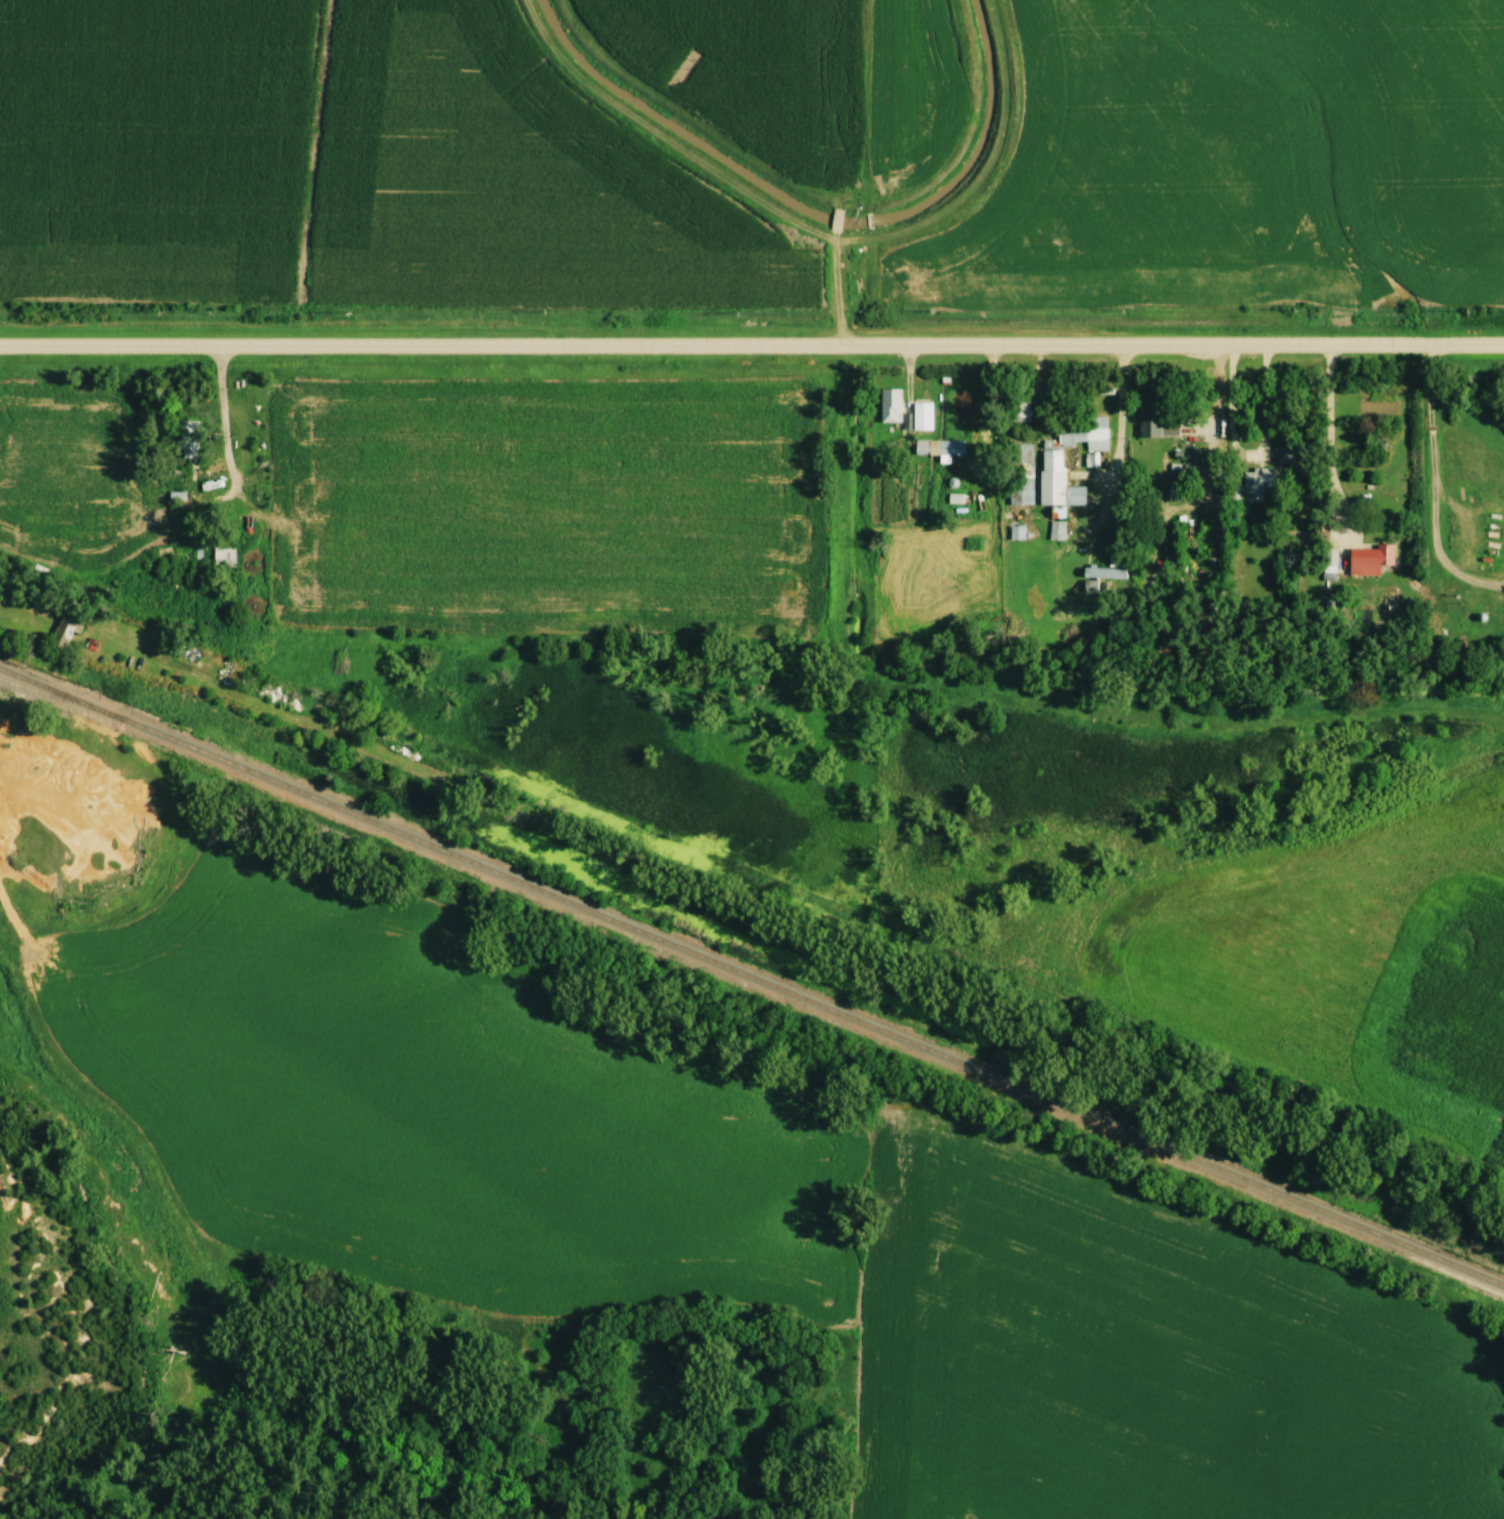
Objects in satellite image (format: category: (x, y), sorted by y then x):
building: (835, 220)
building: (477, 344)
road: (752, 347)
building: (1019, 403)
building: (889, 405)
building: (1154, 416)
road: (1330, 420)
building: (1084, 431)
building: (187, 440)
building: (938, 447)
building: (1281, 455)
road: (1120, 456)
road: (1253, 459)
building: (1056, 481)
building: (1250, 484)
building: (1170, 557)
building: (222, 558)
building: (1329, 558)
building: (1115, 559)
building: (1285, 559)
building: (1369, 559)
building: (1099, 575)
building: (59, 630)
railway: (49, 694)
crop: (1343, 954)
railway: (752, 977)

